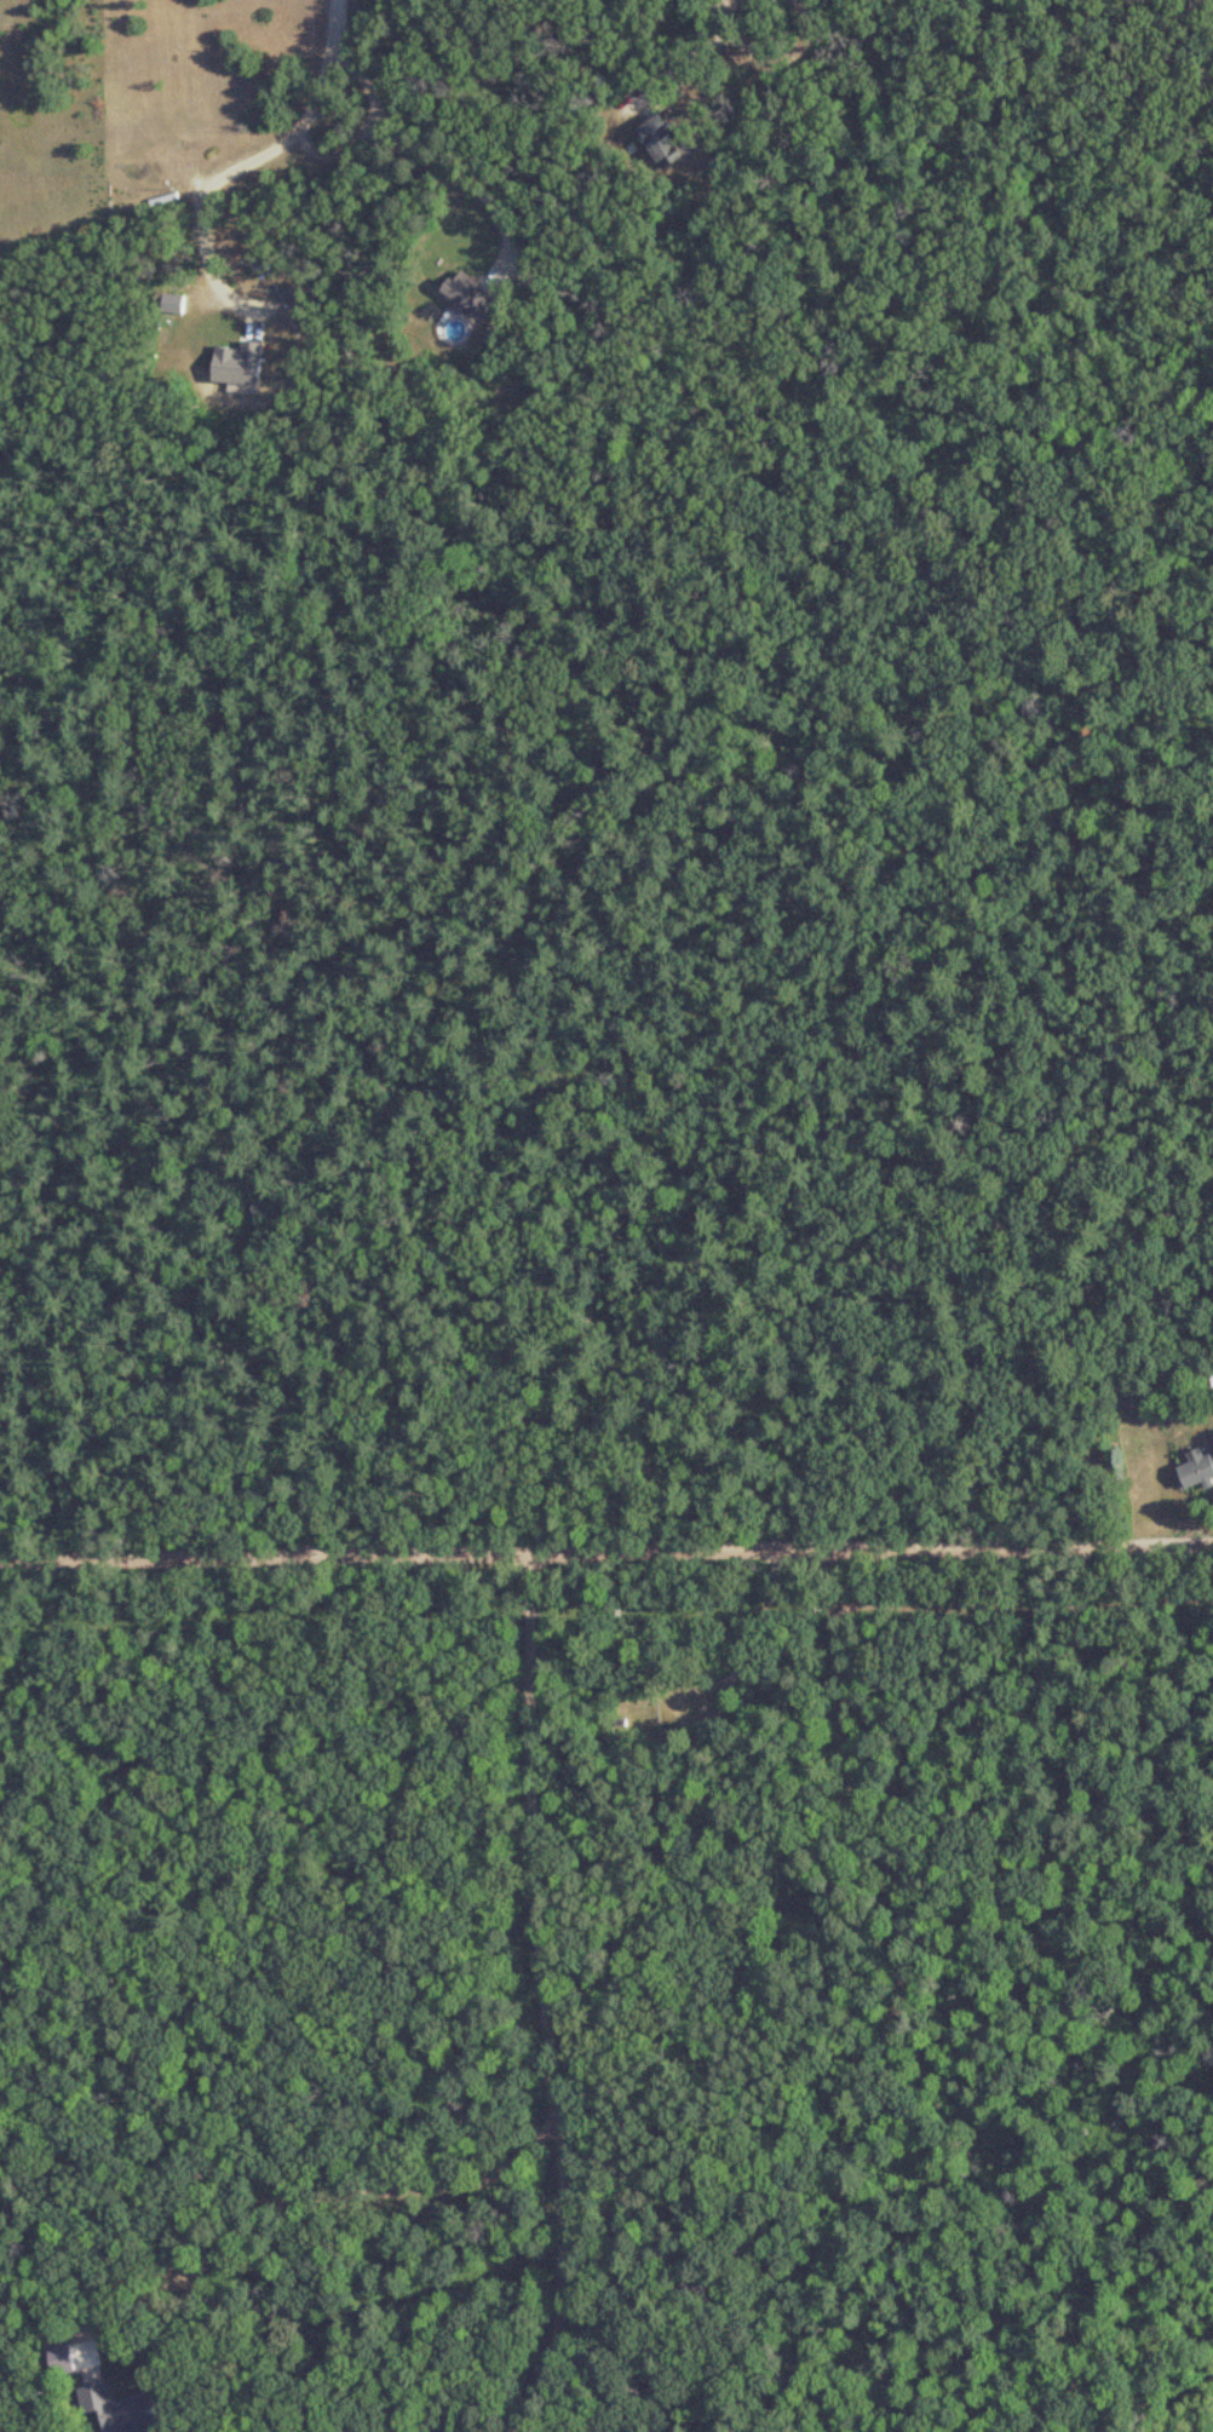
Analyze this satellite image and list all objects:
road: (339, 23)
road: (689, 52)
road: (320, 90)
building: (663, 142)
road: (432, 154)
road: (195, 201)
road: (656, 932)
road: (746, 1106)
building: (1212, 1439)
building: (1196, 1470)
road: (605, 1535)
road: (545, 1985)
road: (317, 2191)
building: (119, 2409)

